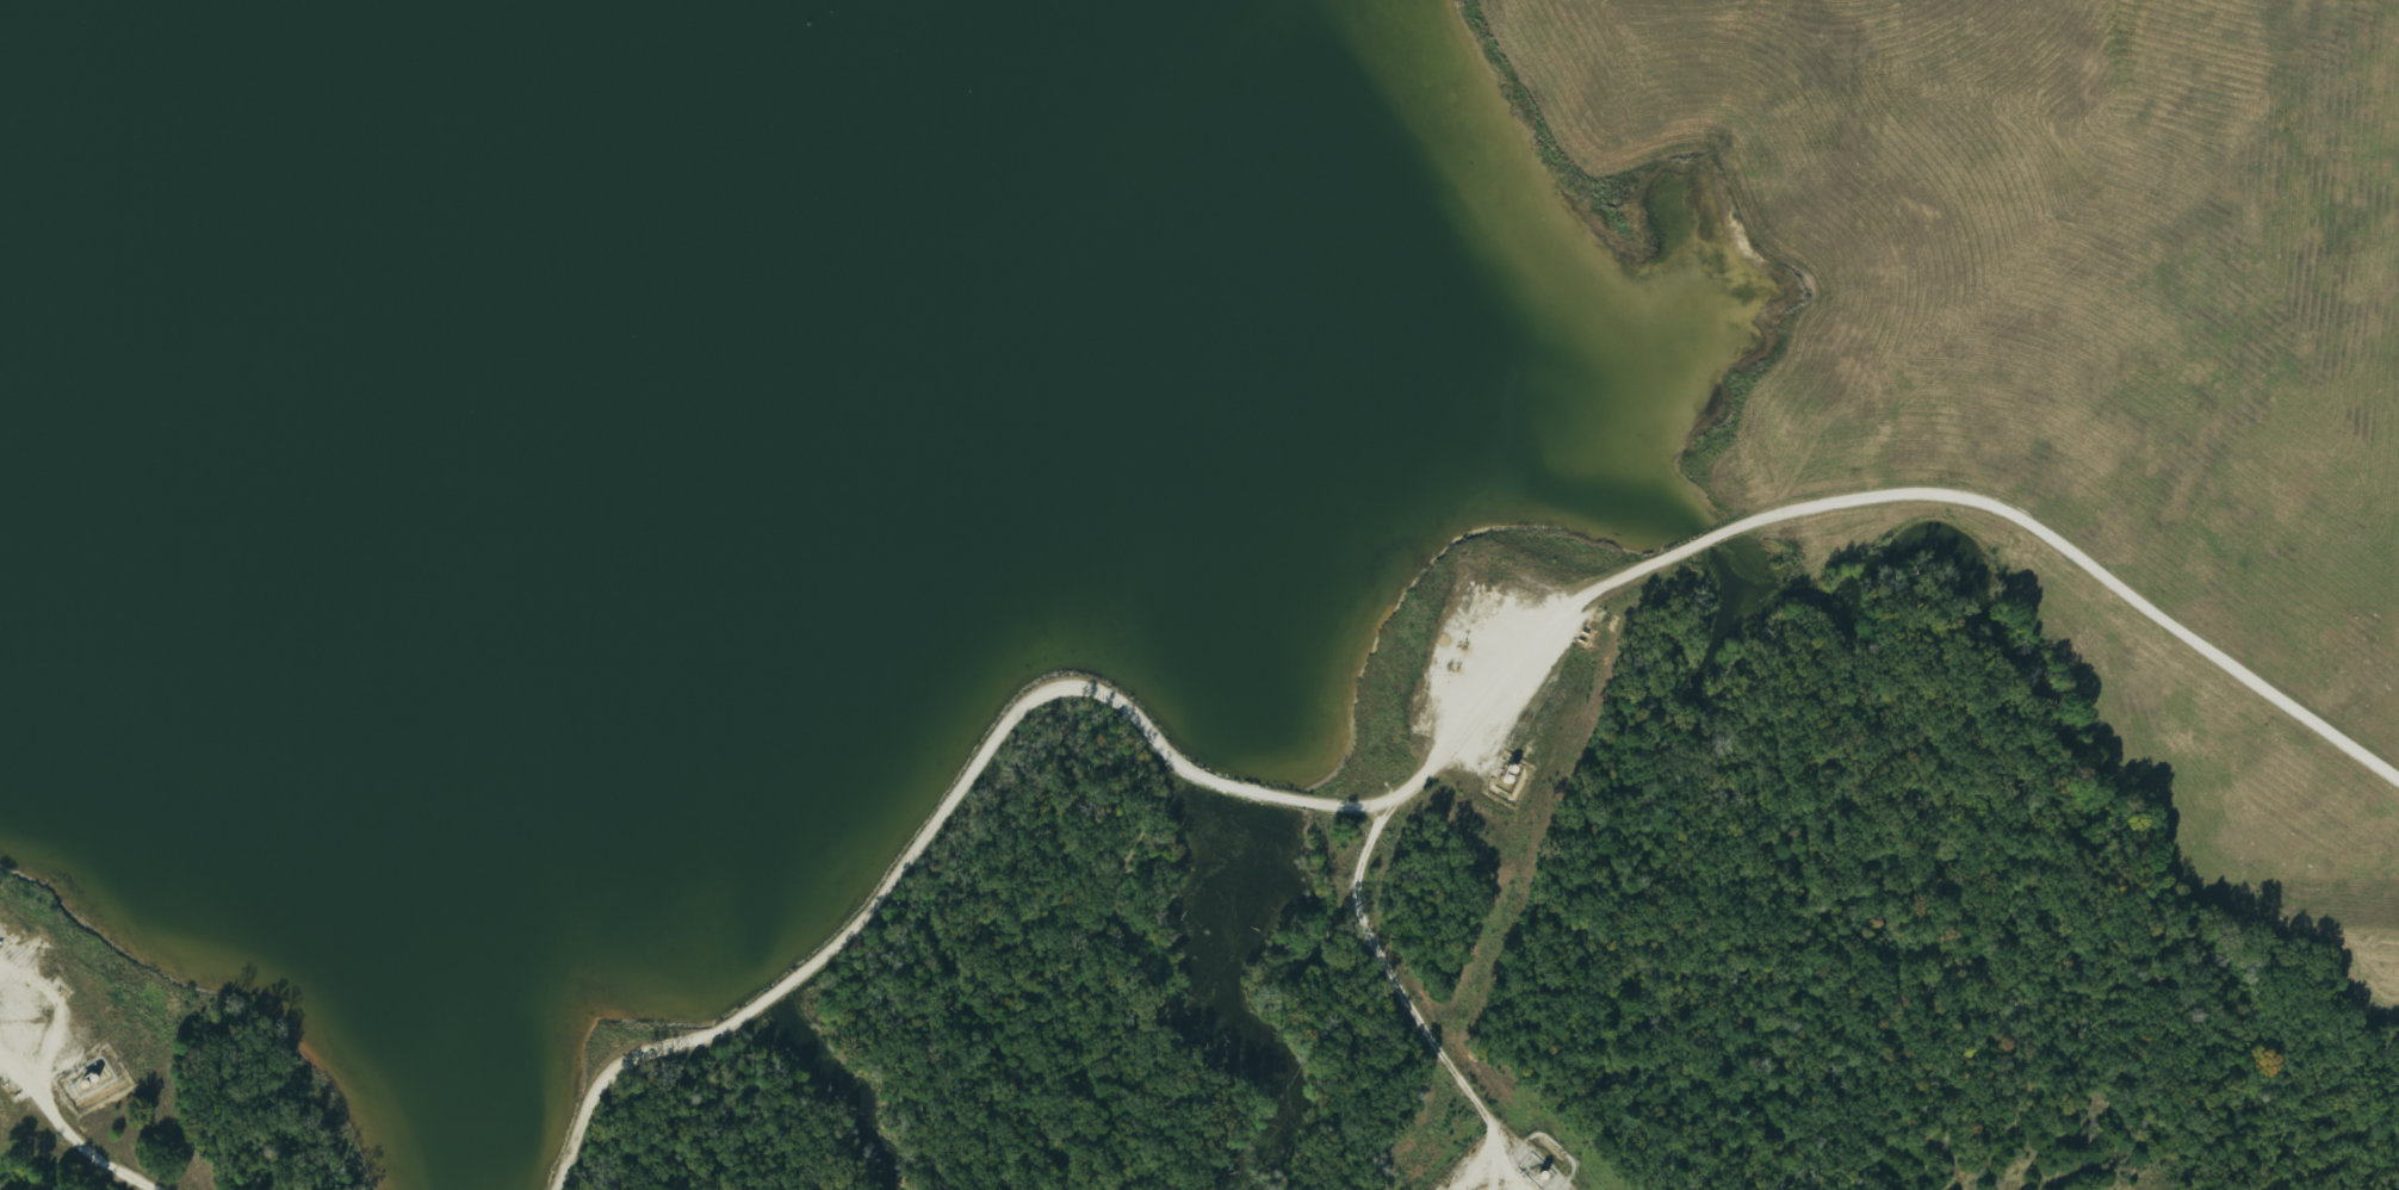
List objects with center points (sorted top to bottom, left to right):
road: (1469, 1066)

